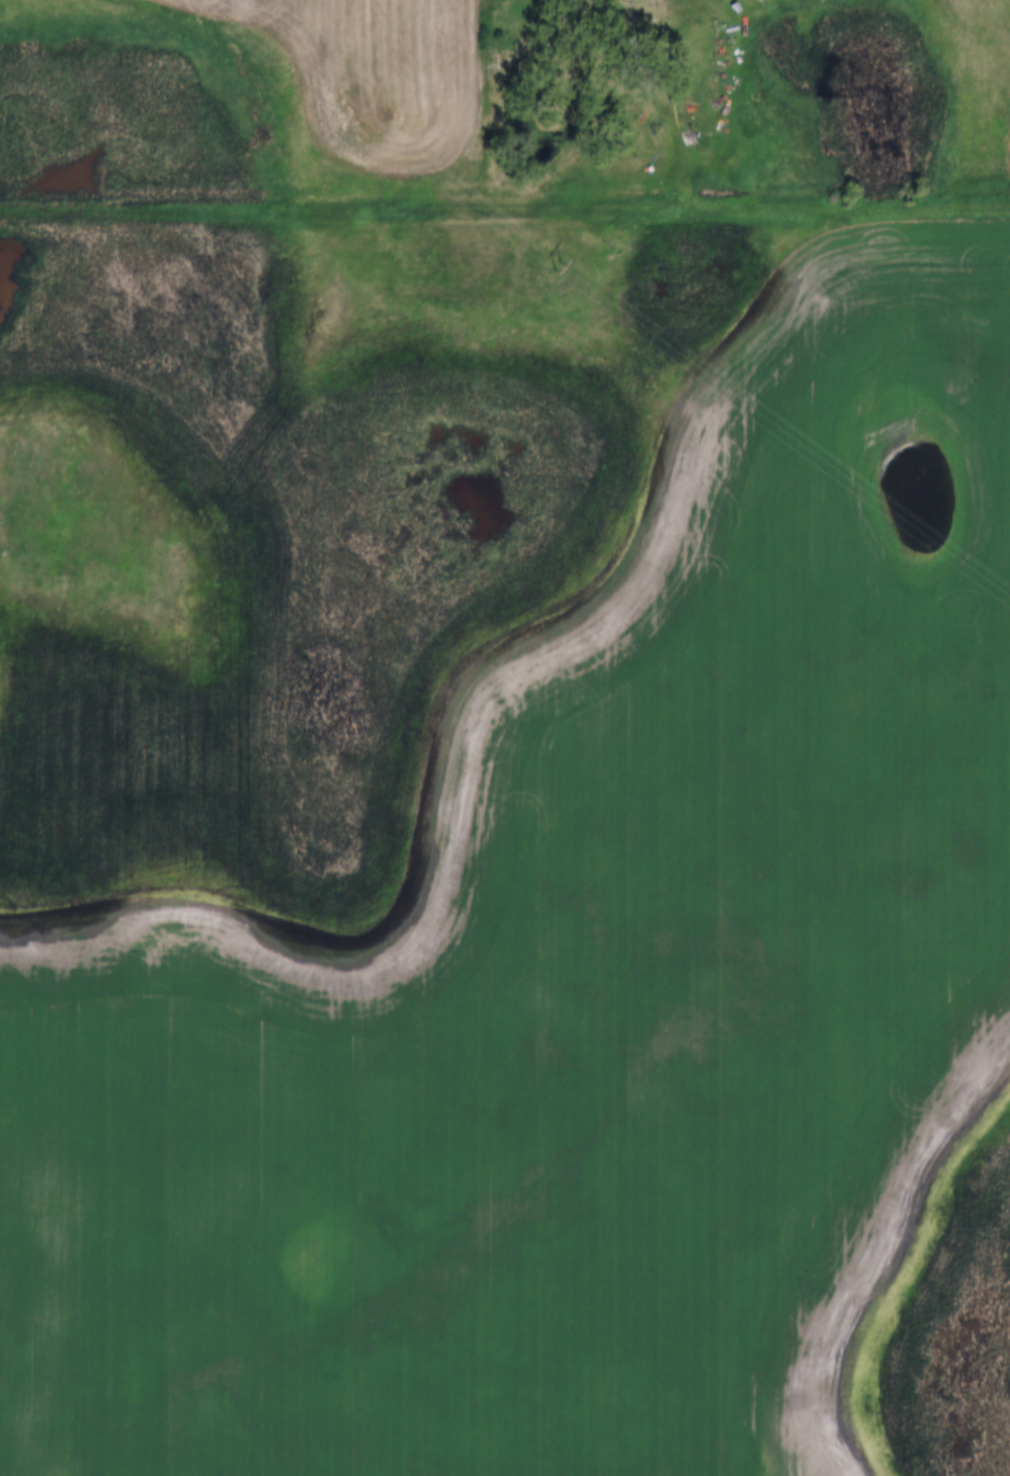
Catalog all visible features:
road: (505, 217)

